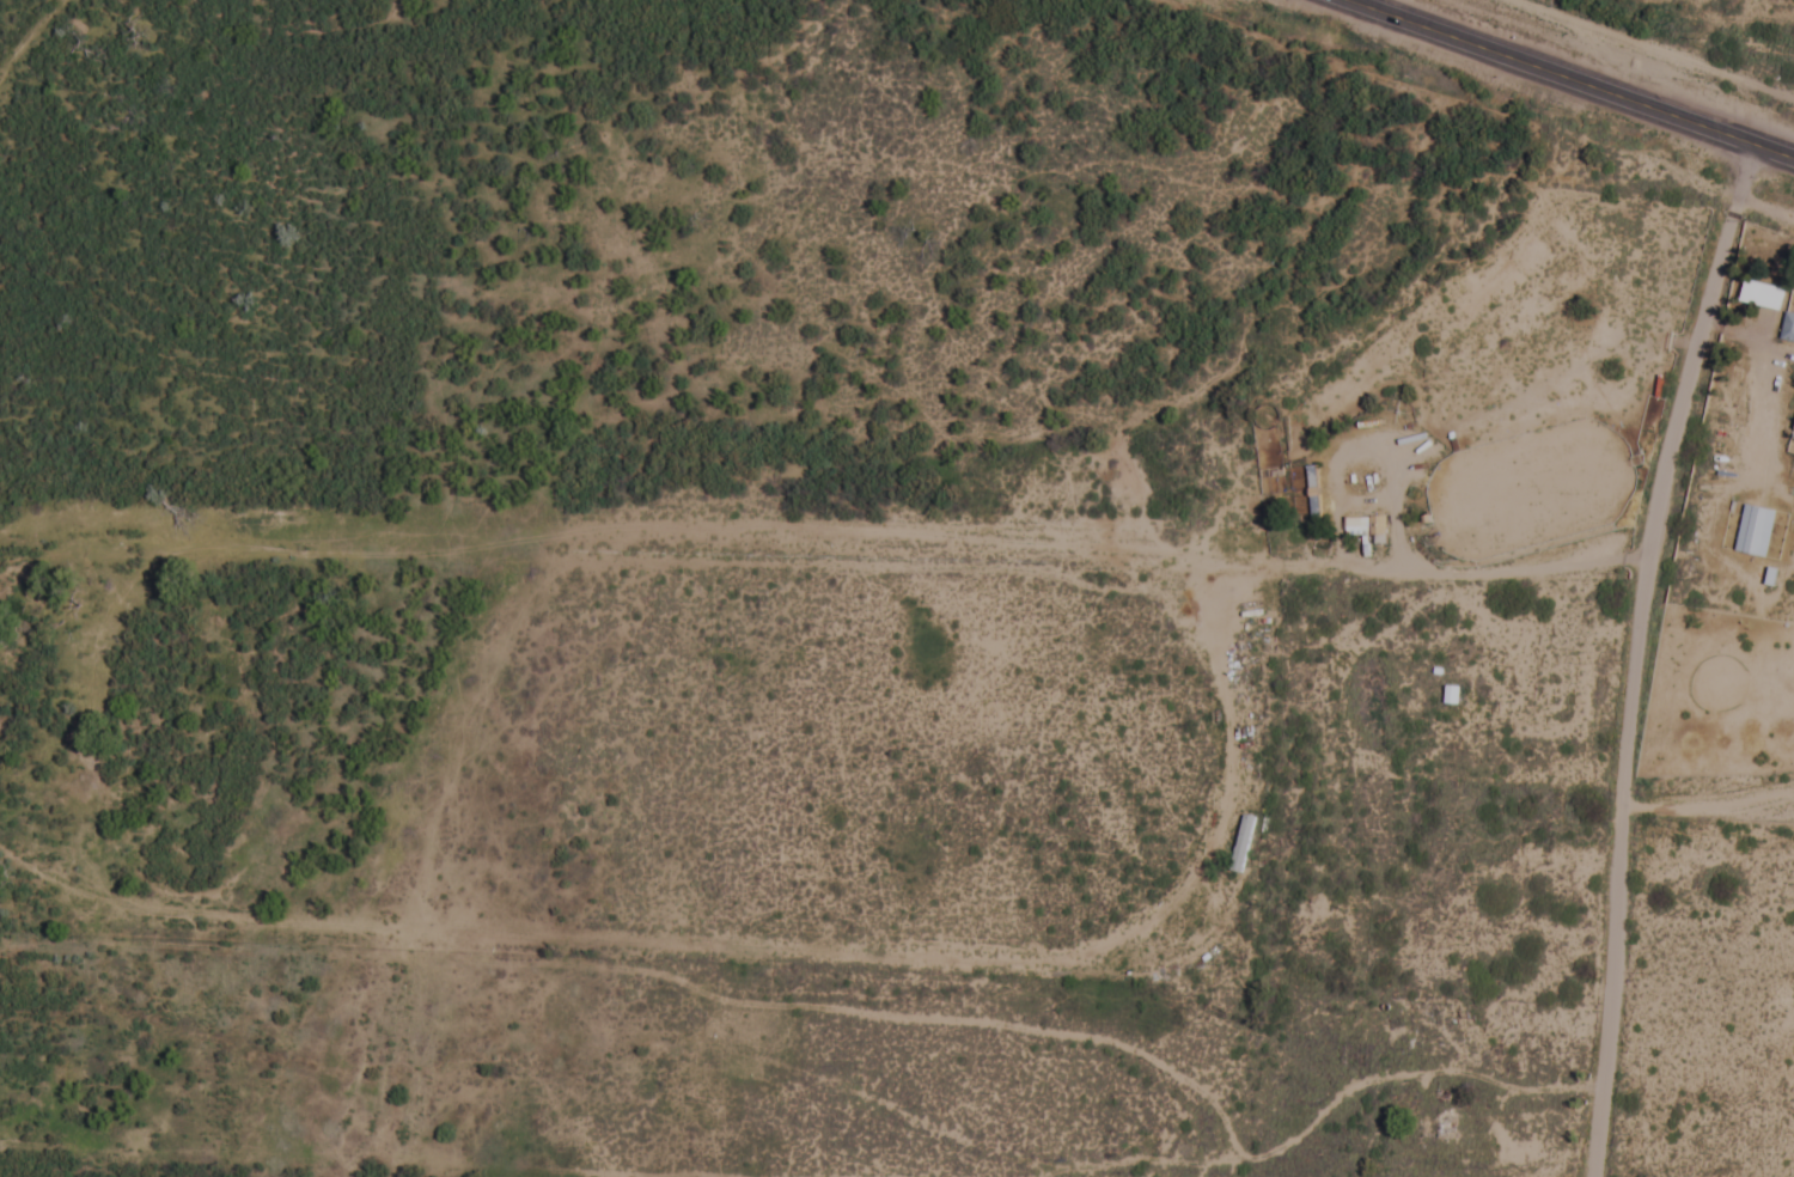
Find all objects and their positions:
road: (1564, 77)
building: (1761, 297)
building: (1787, 329)
building: (1792, 445)
building: (1314, 494)
building: (1356, 527)
building: (1755, 532)
road: (1601, 647)
building: (1451, 696)
building: (1446, 1129)

